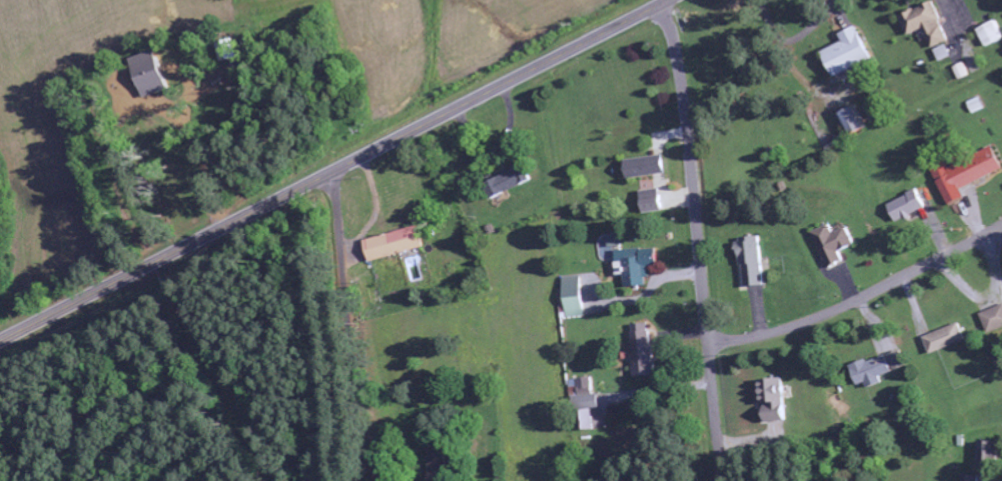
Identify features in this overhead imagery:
building: (926, 24)
building: (989, 33)
building: (228, 50)
building: (848, 52)
building: (943, 52)
building: (960, 71)
building: (151, 73)
building: (854, 121)
building: (647, 166)
road: (334, 171)
building: (968, 171)
building: (509, 180)
building: (653, 201)
building: (908, 206)
building: (615, 239)
road: (700, 241)
building: (394, 243)
building: (834, 244)
building: (753, 262)
building: (637, 265)
building: (574, 296)
road: (860, 297)
building: (993, 319)
road: (349, 326)
building: (946, 338)
building: (644, 350)
building: (879, 369)
building: (774, 398)
building: (587, 404)
building: (989, 455)
building: (436, 460)
building: (970, 478)

